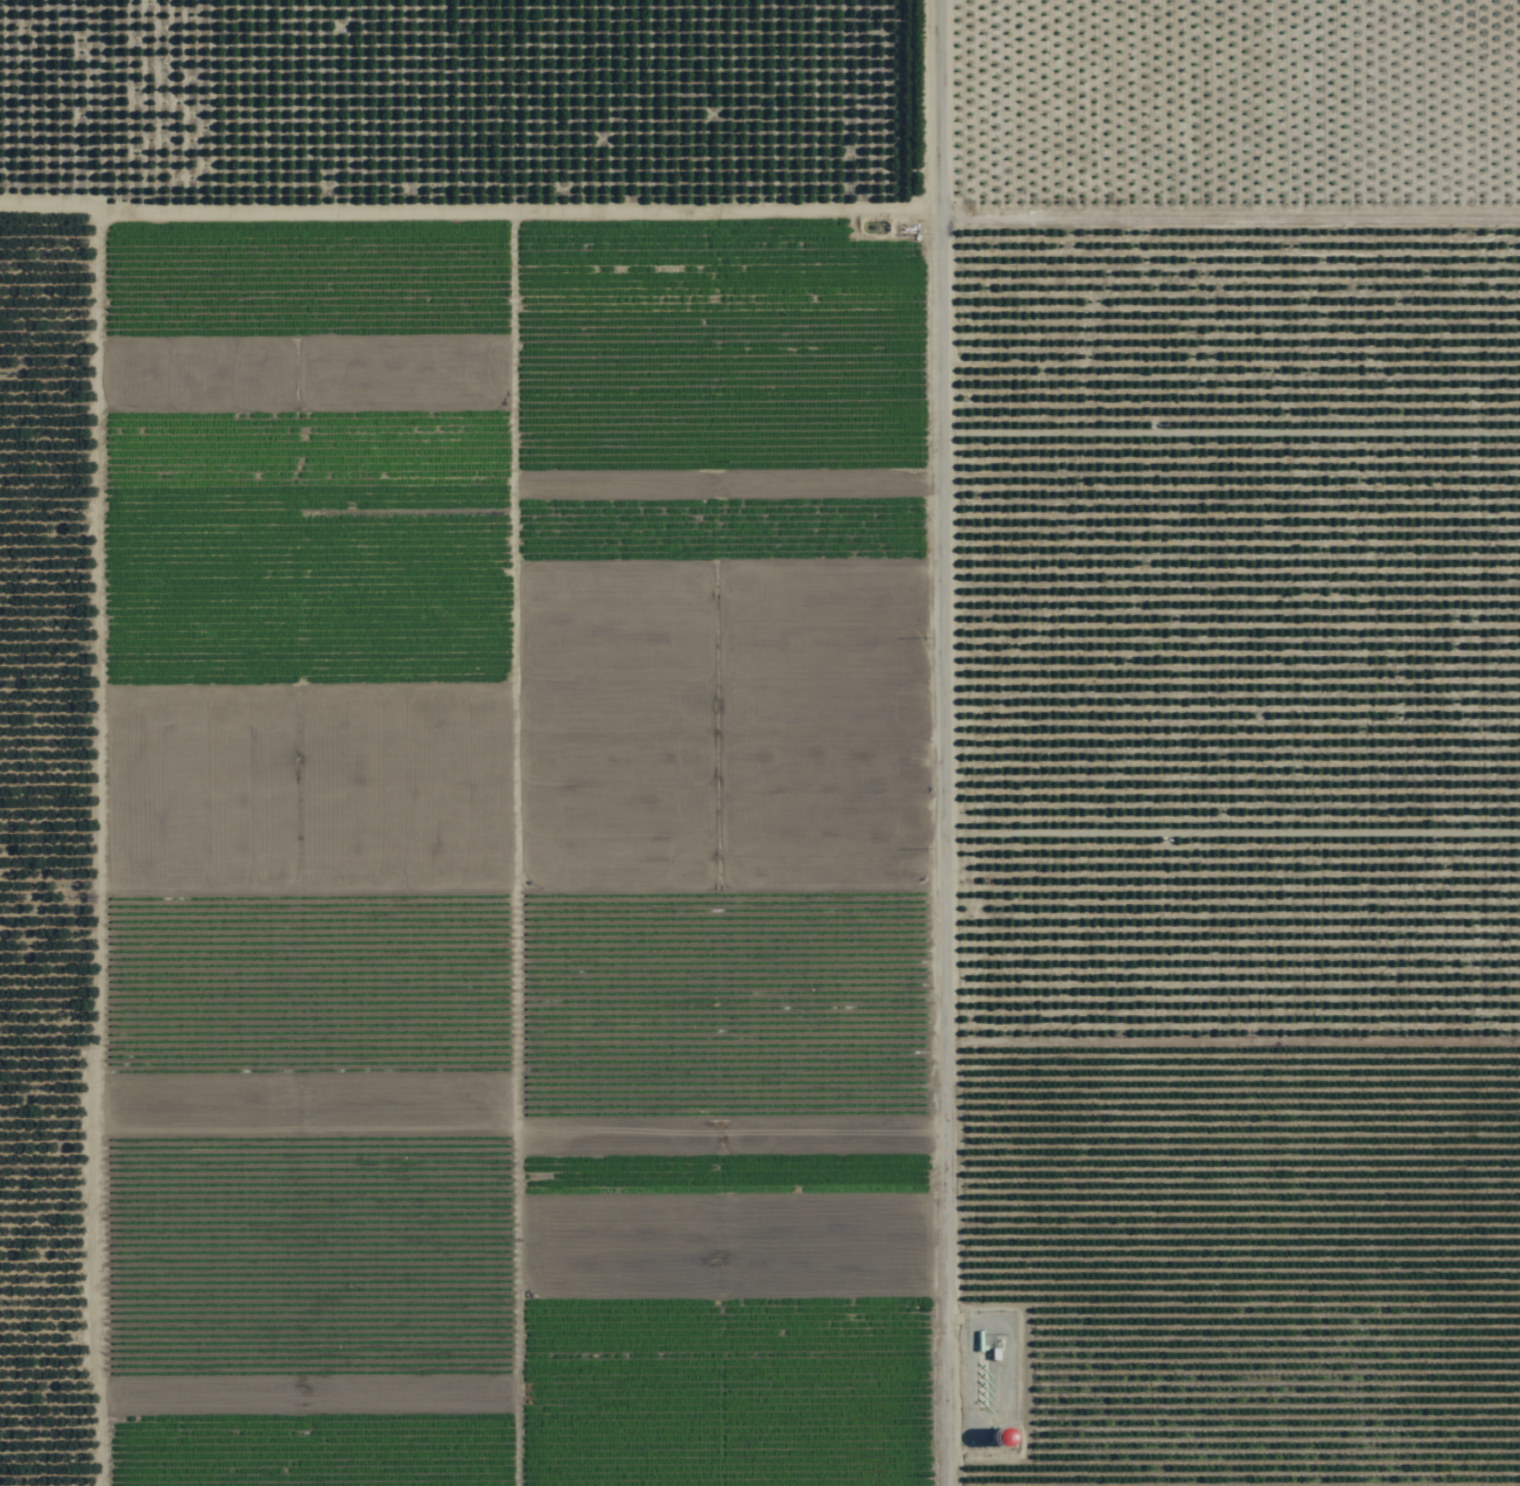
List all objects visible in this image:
road: (55, 121)
crop: (760, 743)
road: (943, 743)
building: (1004, 1437)

